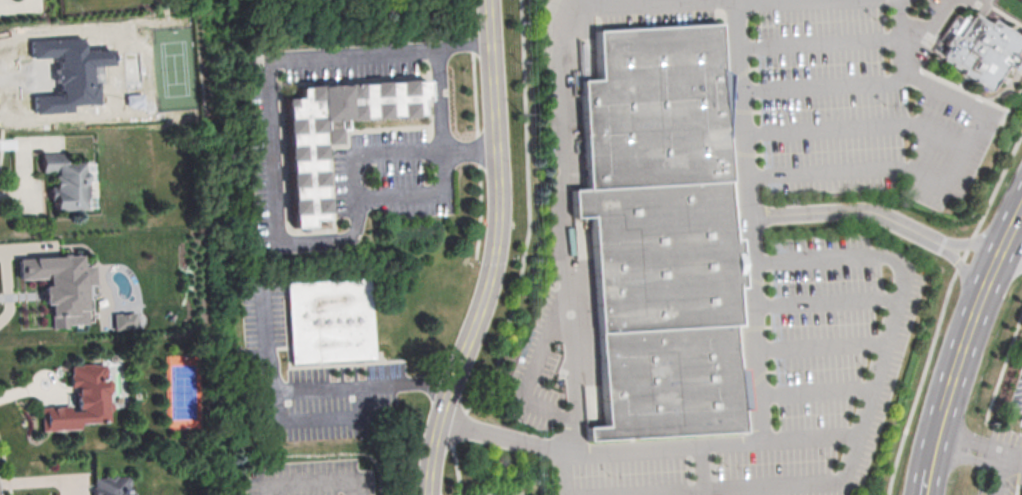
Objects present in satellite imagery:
road: (604, 1)
road: (736, 1)
road: (759, 1)
road: (489, 21)
road: (907, 39)
road: (823, 43)
road: (465, 46)
building: (982, 49)
road: (444, 102)
road: (972, 127)
road: (856, 128)
building: (304, 170)
building: (62, 182)
road: (852, 210)
road: (278, 212)
road: (1015, 216)
road: (564, 225)
building: (667, 234)
road: (977, 239)
road: (1011, 247)
road: (991, 260)
road: (965, 267)
road: (492, 273)
road: (753, 277)
building: (55, 286)
road: (825, 301)
road: (941, 310)
building: (328, 321)
road: (820, 345)
road: (958, 357)
road: (538, 363)
road: (875, 365)
road: (1004, 372)
road: (320, 388)
road: (814, 389)
building: (76, 401)
road: (316, 418)
building: (600, 418)
road: (502, 433)
road: (809, 436)
road: (972, 439)
road: (935, 444)
road: (633, 446)
road: (1013, 457)
road: (988, 460)
road: (564, 470)
road: (928, 481)
road: (315, 483)
building: (108, 486)
road: (667, 492)

